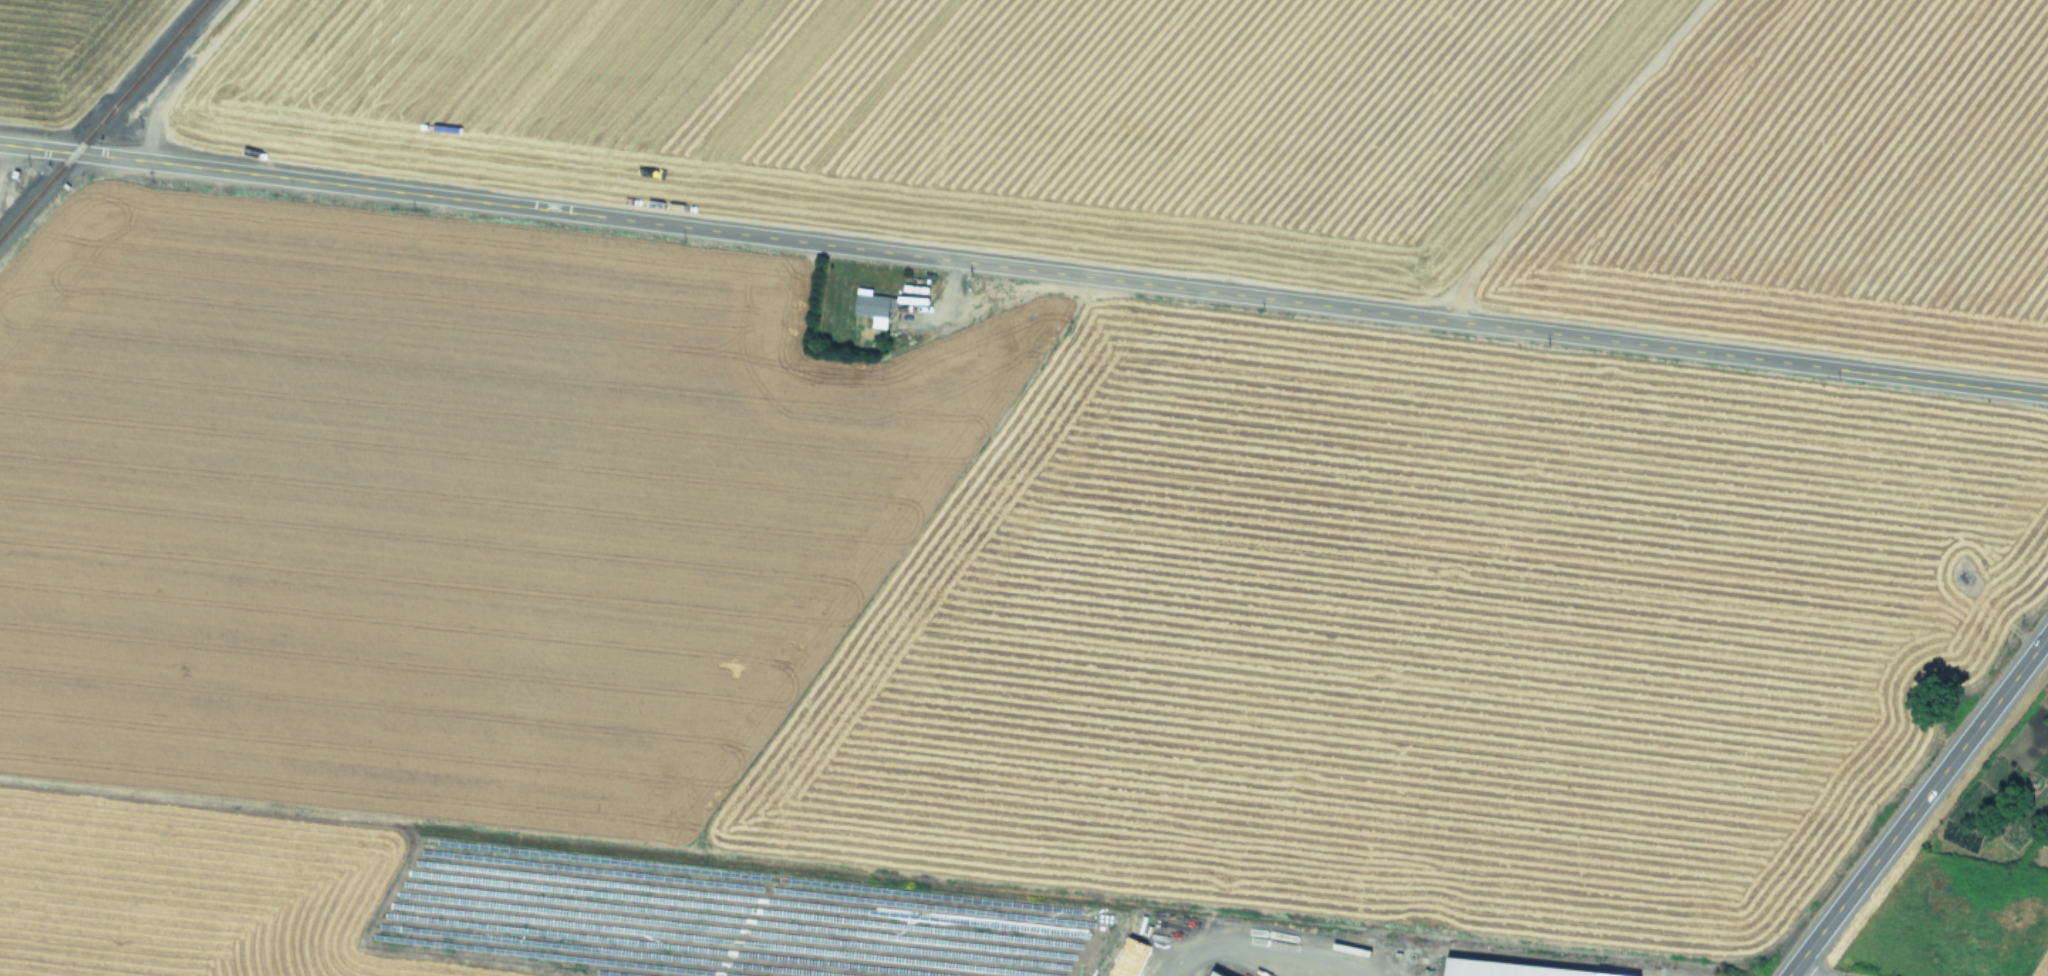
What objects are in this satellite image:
railway: (104, 119)
crop: (1226, 122)
road: (1024, 269)
building: (875, 310)
building: (1965, 577)
crop: (919, 625)
road: (1918, 805)
crop: (1997, 877)
road: (1252, 947)
building: (1510, 969)
road: (1799, 973)
building: (1214, 974)

